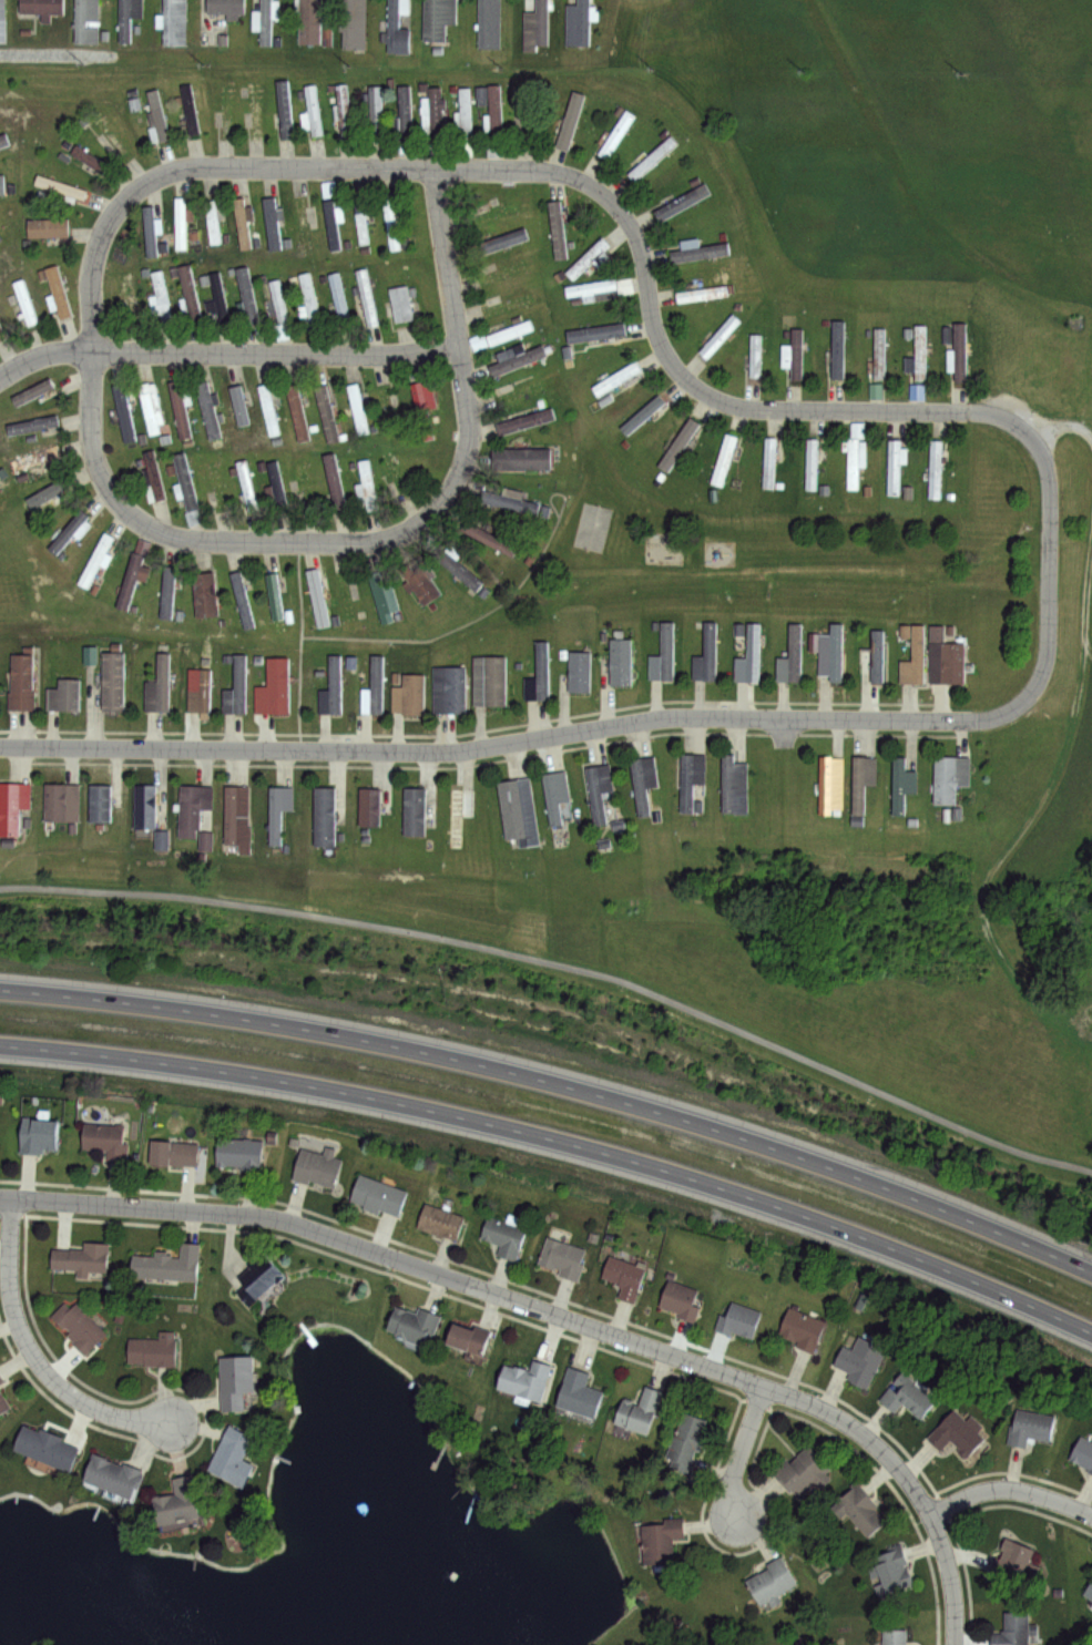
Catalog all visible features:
building: (42, 8)
building: (226, 8)
building: (126, 17)
building: (437, 19)
building: (267, 20)
building: (1, 21)
building: (84, 21)
building: (309, 21)
building: (173, 22)
building: (489, 23)
building: (578, 23)
building: (354, 24)
building: (398, 27)
building: (537, 27)
building: (223, 108)
building: (190, 110)
building: (284, 110)
building: (252, 111)
building: (344, 111)
building: (375, 111)
building: (312, 113)
building: (432, 113)
building: (494, 113)
building: (404, 114)
building: (463, 115)
building: (154, 117)
building: (616, 134)
building: (106, 135)
building: (3, 140)
building: (493, 150)
building: (653, 157)
building: (88, 159)
building: (1, 184)
building: (59, 186)
building: (327, 188)
building: (681, 203)
road: (623, 214)
building: (180, 222)
building: (212, 222)
building: (243, 222)
building: (273, 222)
building: (392, 222)
building: (334, 223)
building: (361, 223)
building: (47, 228)
building: (151, 229)
building: (558, 229)
building: (499, 242)
building: (697, 249)
road: (447, 258)
building: (588, 260)
building: (603, 288)
building: (55, 293)
building: (702, 294)
building: (188, 295)
building: (160, 296)
building: (246, 296)
building: (338, 297)
building: (367, 297)
building: (218, 300)
building: (309, 300)
building: (23, 303)
building: (276, 303)
building: (401, 304)
building: (509, 333)
building: (596, 333)
building: (2, 334)
building: (717, 337)
building: (837, 350)
road: (225, 351)
building: (793, 355)
building: (879, 355)
building: (755, 356)
building: (918, 356)
building: (958, 356)
building: (518, 360)
building: (616, 378)
building: (874, 391)
building: (915, 391)
building: (30, 392)
building: (423, 405)
building: (238, 406)
building: (150, 407)
building: (178, 408)
building: (357, 409)
building: (207, 410)
building: (268, 410)
building: (123, 413)
building: (297, 413)
building: (326, 413)
building: (641, 415)
building: (525, 421)
building: (30, 426)
building: (678, 443)
building: (35, 459)
building: (521, 459)
building: (724, 460)
building: (854, 461)
building: (768, 462)
building: (812, 466)
building: (896, 468)
building: (936, 470)
building: (392, 474)
building: (153, 476)
building: (185, 482)
building: (303, 483)
building: (334, 483)
building: (214, 486)
building: (246, 487)
building: (276, 487)
building: (367, 488)
building: (49, 493)
building: (510, 502)
building: (70, 531)
building: (488, 538)
road: (284, 542)
building: (94, 561)
building: (457, 569)
building: (134, 573)
building: (420, 582)
building: (167, 594)
building: (204, 595)
building: (274, 597)
building: (317, 597)
building: (384, 597)
building: (241, 600)
building: (830, 650)
building: (914, 655)
building: (663, 657)
building: (706, 657)
building: (749, 657)
building: (792, 658)
building: (875, 658)
building: (947, 658)
building: (621, 662)
building: (580, 673)
building: (539, 676)
building: (490, 681)
building: (20, 683)
building: (112, 683)
building: (198, 685)
building: (277, 685)
building: (377, 685)
building: (159, 686)
building: (235, 689)
building: (331, 689)
building: (450, 691)
building: (409, 695)
building: (62, 696)
road: (581, 732)
building: (951, 778)
building: (691, 779)
building: (644, 781)
building: (864, 781)
building: (831, 785)
building: (904, 785)
building: (735, 787)
building: (600, 790)
building: (557, 794)
building: (61, 804)
building: (99, 805)
building: (144, 806)
building: (12, 807)
building: (369, 807)
building: (193, 808)
building: (518, 811)
building: (277, 813)
building: (414, 813)
building: (459, 814)
building: (325, 817)
building: (237, 819)
road: (562, 963)
road: (558, 1085)
building: (39, 1133)
building: (105, 1140)
road: (558, 1142)
building: (174, 1151)
building: (239, 1151)
building: (317, 1166)
building: (378, 1194)
building: (440, 1220)
building: (504, 1234)
building: (562, 1257)
building: (82, 1258)
building: (167, 1264)
building: (624, 1277)
building: (256, 1278)
road: (491, 1292)
building: (681, 1300)
building: (738, 1320)
building: (412, 1322)
building: (79, 1326)
building: (802, 1328)
building: (467, 1338)
building: (152, 1349)
road: (34, 1356)
building: (860, 1360)
building: (1, 1379)
building: (235, 1379)
building: (524, 1379)
building: (578, 1393)
building: (908, 1393)
building: (2, 1403)
building: (637, 1410)
building: (1031, 1426)
building: (959, 1433)
building: (685, 1438)
building: (45, 1447)
road: (742, 1453)
building: (1083, 1453)
building: (232, 1455)
building: (802, 1470)
building: (113, 1475)
road: (1012, 1490)
building: (176, 1505)
building: (860, 1508)
building: (657, 1539)
building: (1010, 1559)
building: (889, 1571)
road: (951, 1577)
building: (772, 1580)
building: (1089, 1595)
building: (1014, 1628)
building: (895, 1637)

